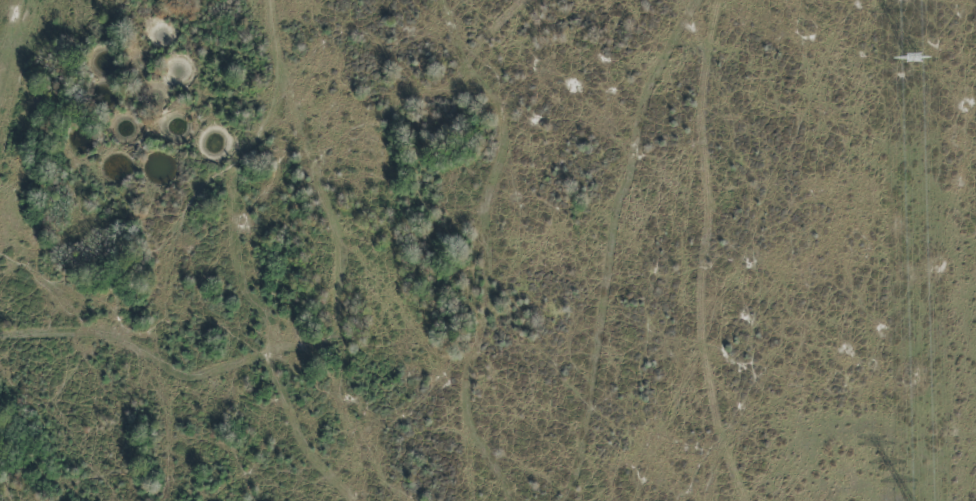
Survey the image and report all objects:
power tower: (914, 57)

